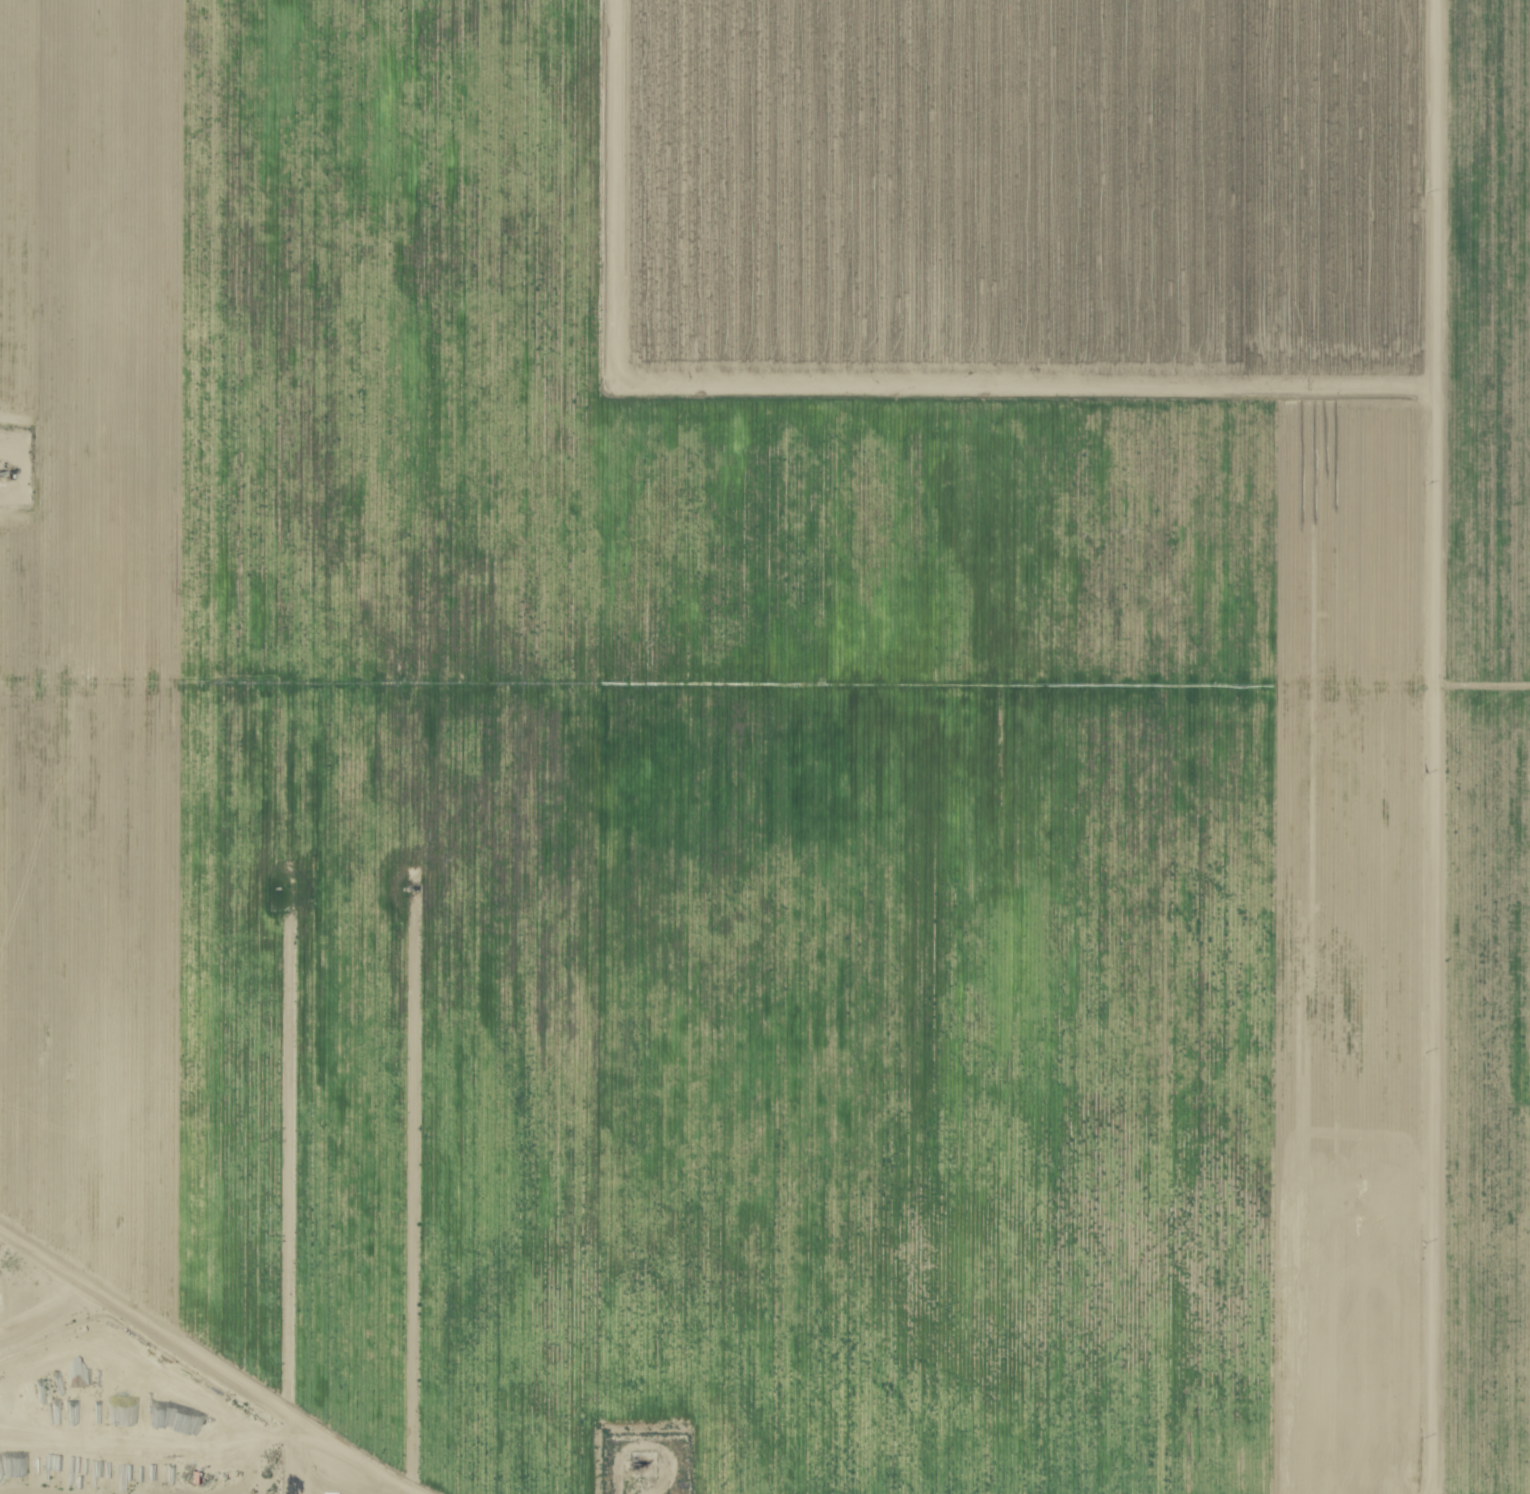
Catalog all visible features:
road: (1433, 434)
crop: (765, 747)
road: (1429, 1181)
road: (265, 1442)

